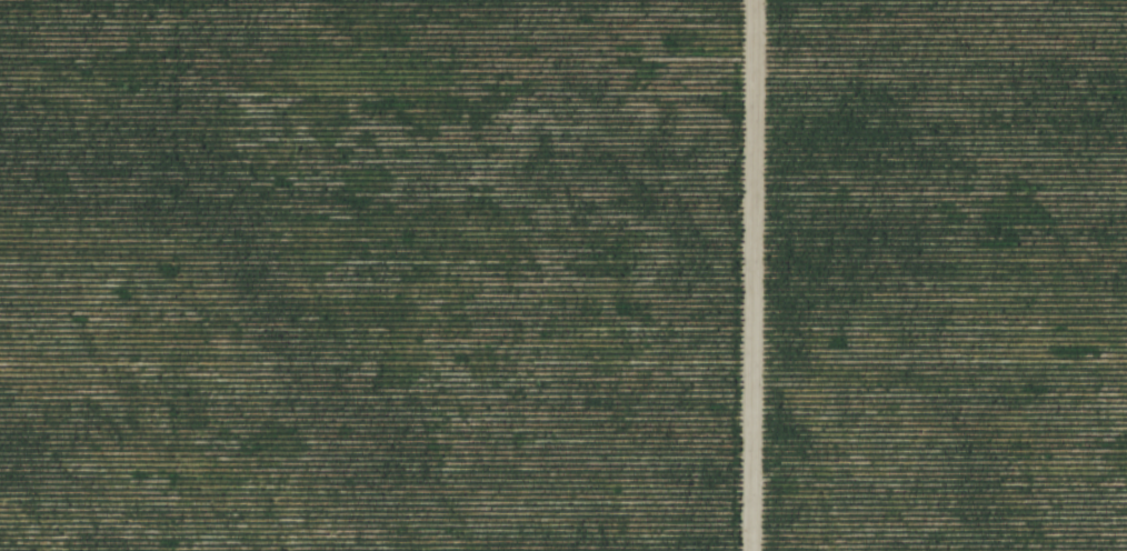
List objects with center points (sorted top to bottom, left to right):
crop: (366, 274)
road: (745, 275)
crop: (939, 275)

